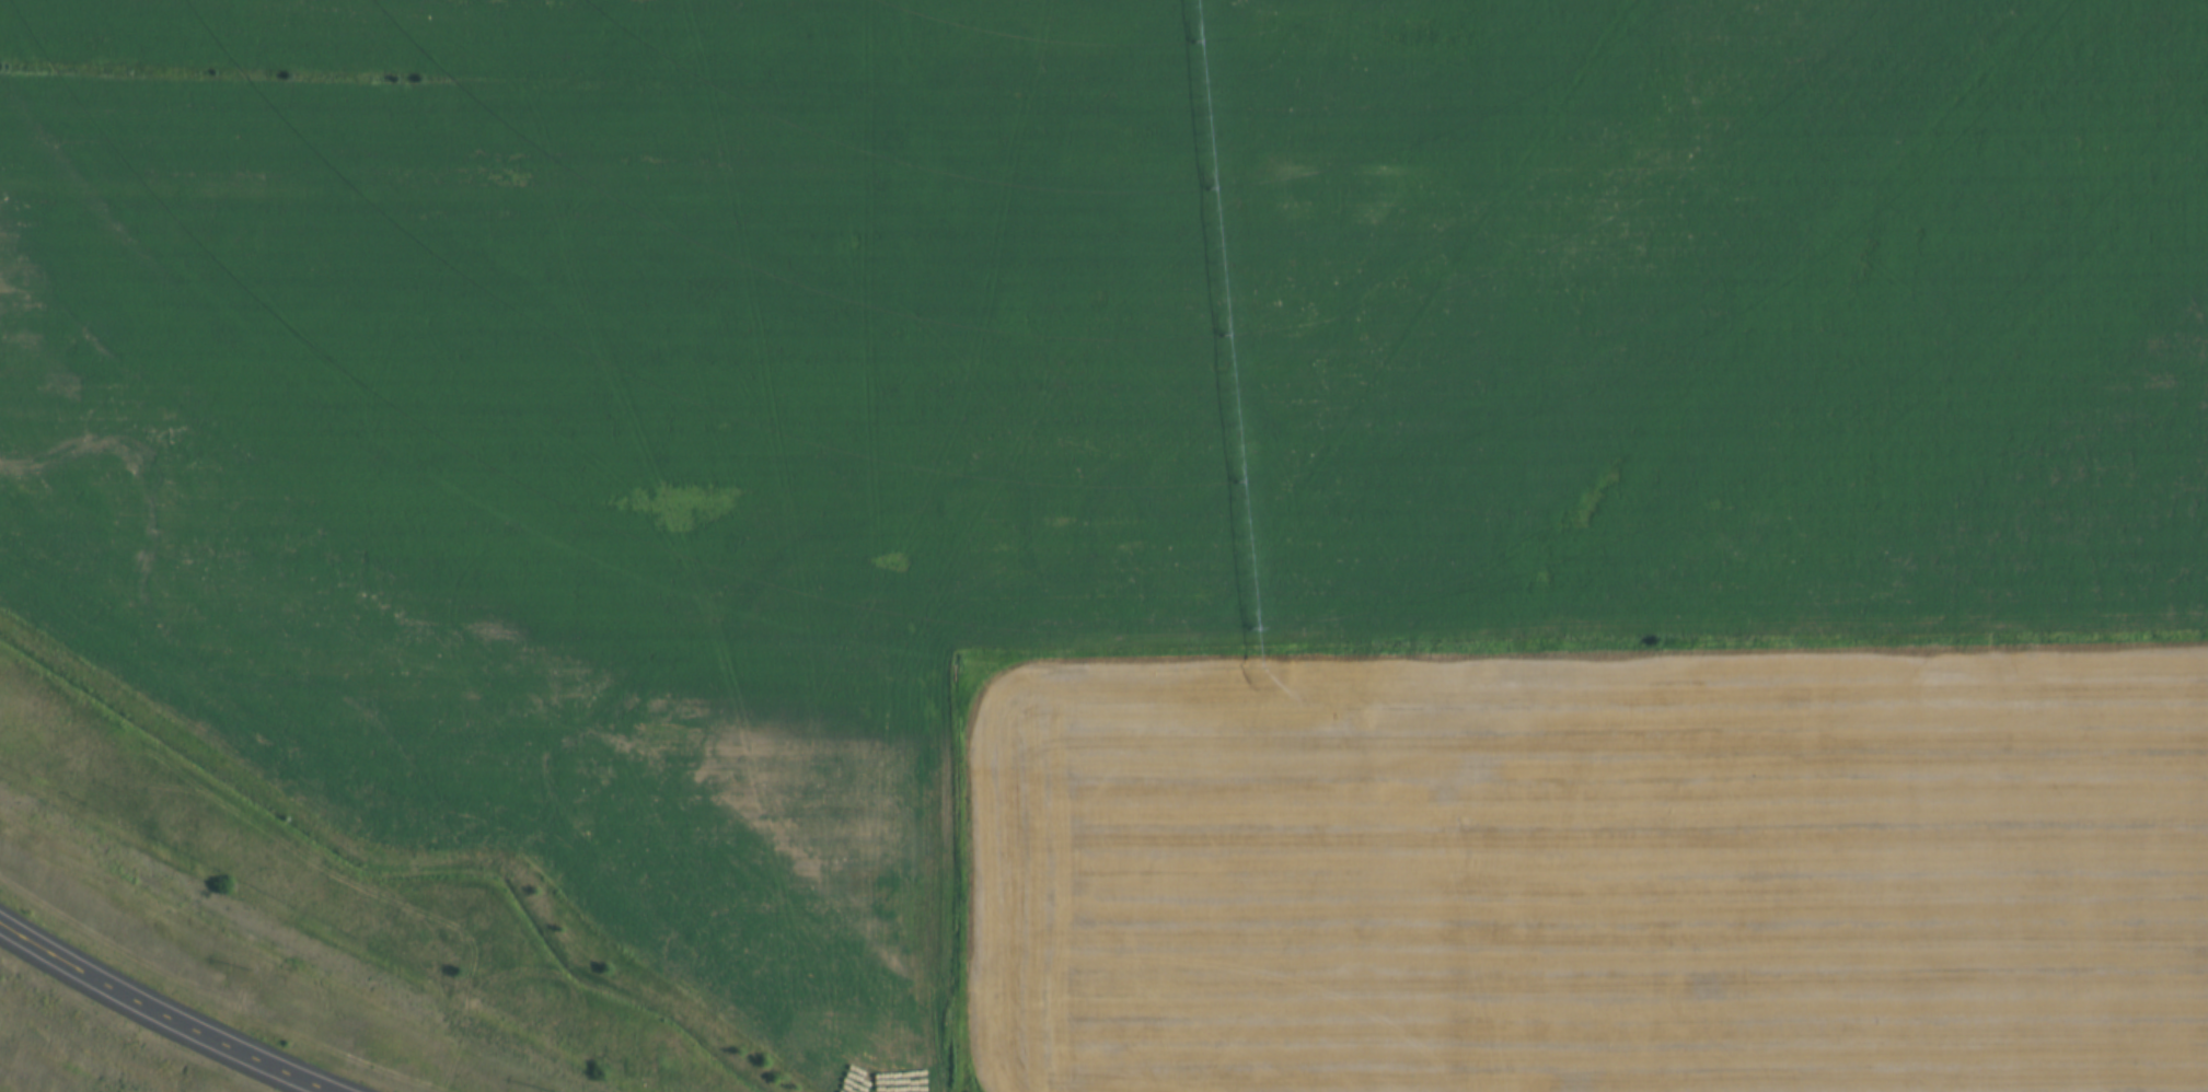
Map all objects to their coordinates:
road: (943, 558)
road: (172, 1013)

